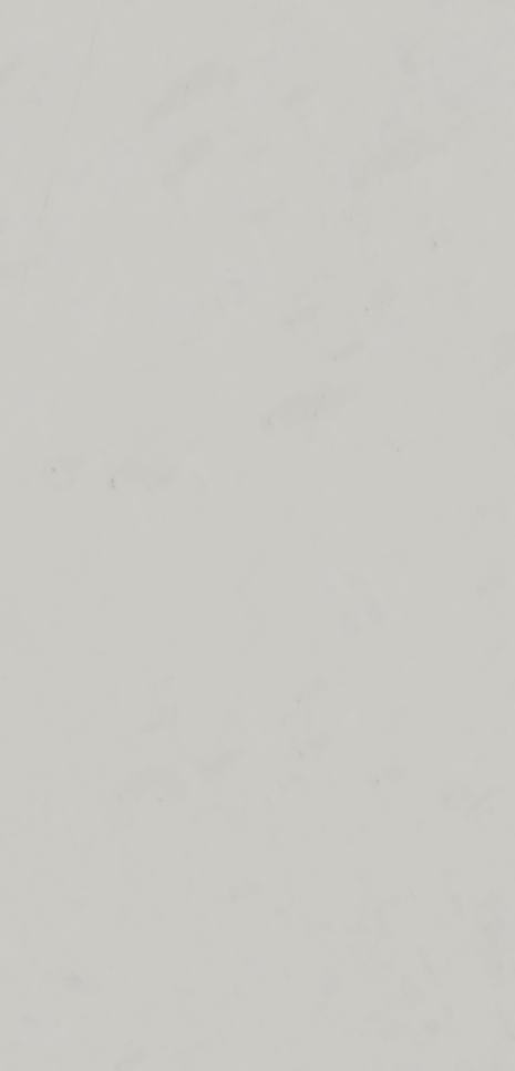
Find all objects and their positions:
road: (61, 233)
building: (137, 979)

